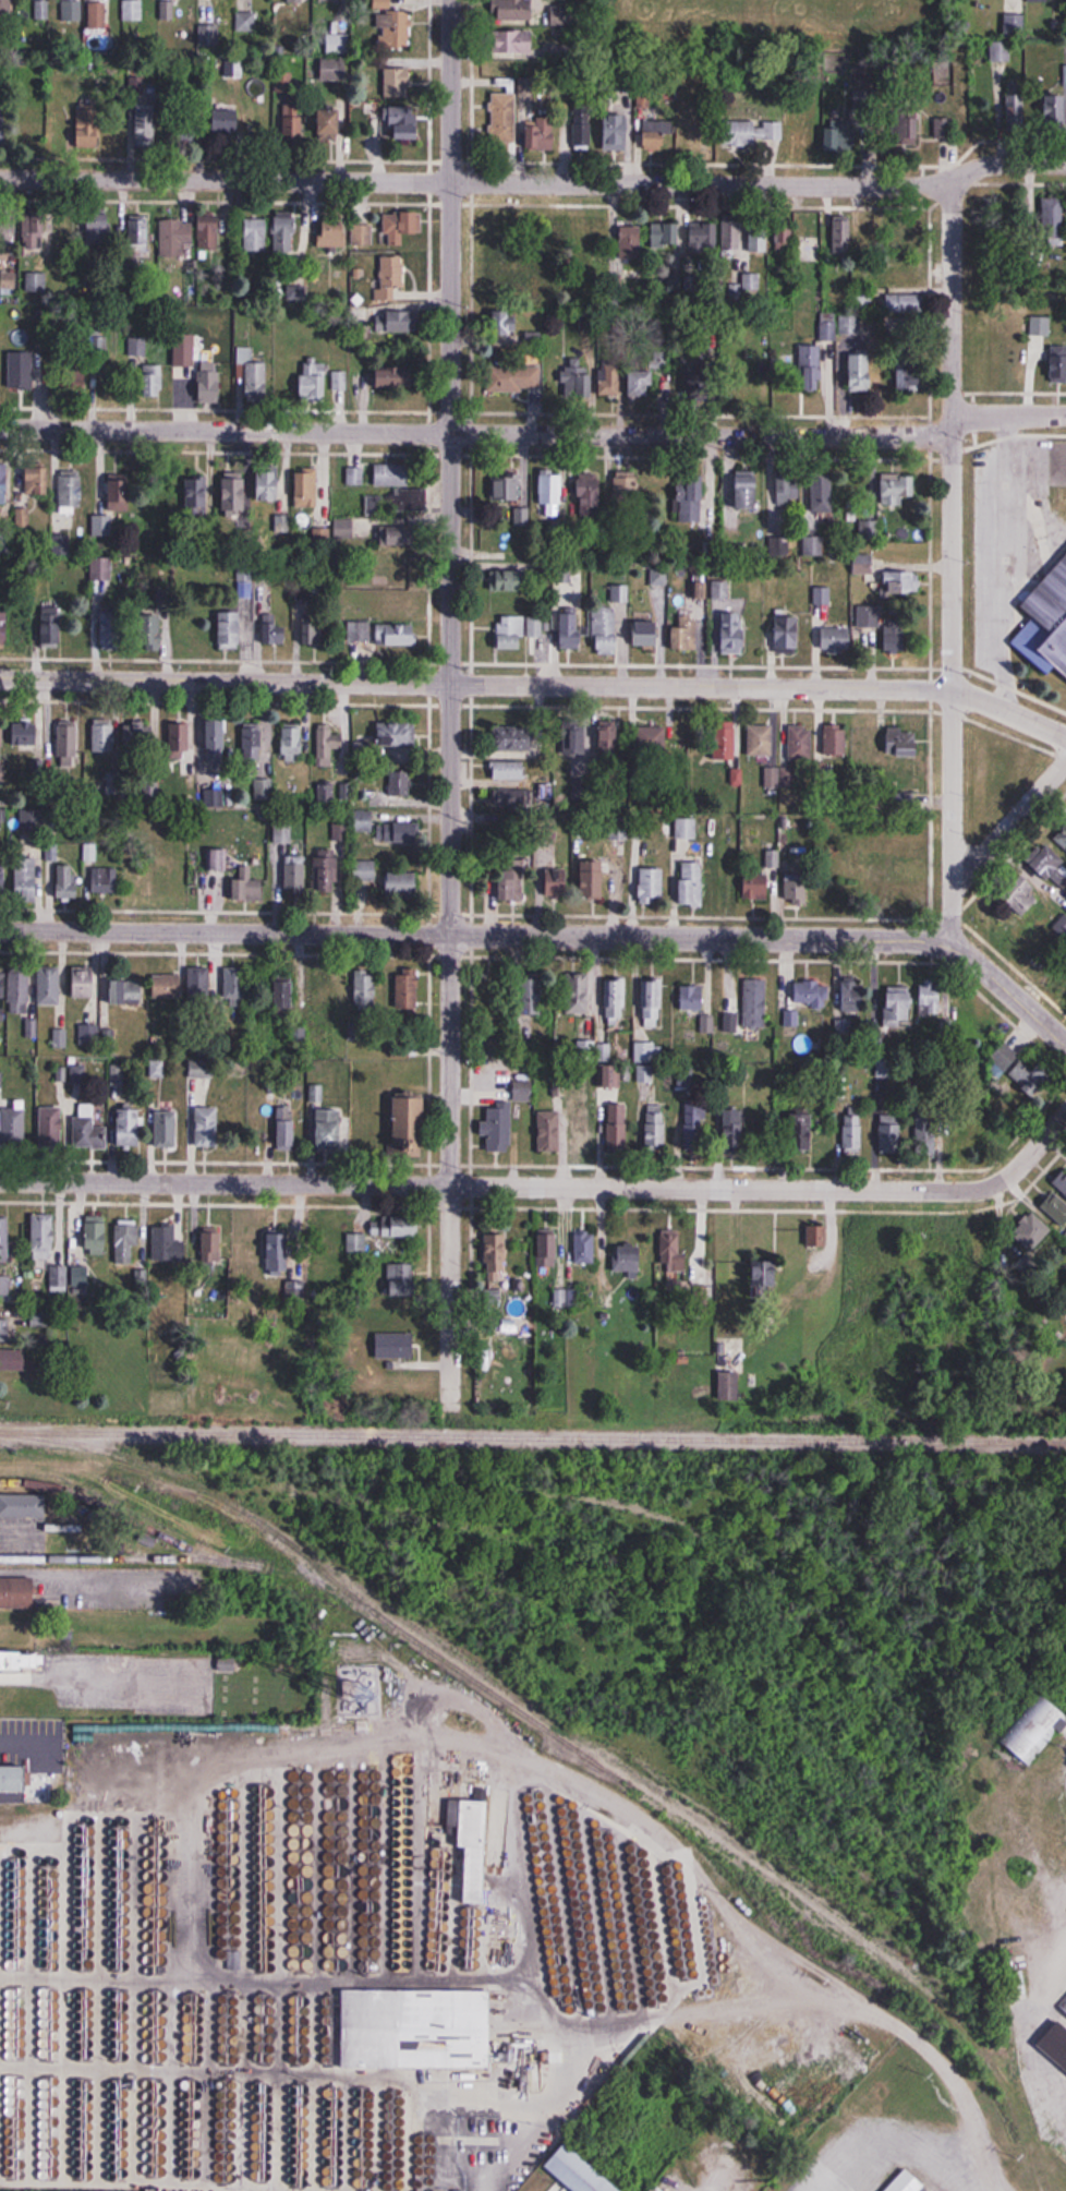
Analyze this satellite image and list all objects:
building: (1039, 0)
building: (295, 1)
building: (331, 2)
building: (385, 4)
building: (5, 7)
building: (38, 10)
building: (71, 10)
building: (132, 10)
building: (512, 10)
building: (96, 16)
building: (244, 22)
building: (1014, 25)
building: (393, 28)
building: (513, 40)
building: (1000, 50)
building: (233, 68)
building: (332, 70)
building: (397, 82)
building: (1015, 110)
building: (1055, 110)
building: (502, 118)
building: (225, 119)
building: (145, 121)
building: (404, 122)
building: (329, 123)
building: (89, 125)
building: (291, 125)
building: (2, 127)
building: (189, 127)
building: (909, 128)
building: (582, 129)
building: (755, 130)
building: (944, 130)
building: (617, 132)
building: (544, 133)
building: (657, 133)
building: (836, 140)
road: (534, 182)
building: (1053, 220)
building: (401, 227)
building: (98, 229)
building: (34, 230)
building: (840, 230)
building: (208, 231)
building: (287, 231)
building: (331, 232)
building: (596, 232)
building: (138, 233)
building: (255, 233)
building: (362, 233)
building: (665, 233)
building: (704, 234)
building: (732, 234)
building: (797, 234)
building: (756, 236)
building: (175, 238)
building: (630, 238)
building: (913, 240)
building: (499, 248)
building: (541, 269)
building: (392, 273)
building: (907, 274)
building: (8, 279)
building: (36, 280)
building: (504, 284)
building: (864, 298)
building: (904, 302)
building: (398, 322)
building: (505, 323)
building: (849, 325)
building: (137, 344)
building: (184, 350)
building: (1058, 363)
building: (744, 364)
building: (810, 368)
building: (21, 371)
building: (860, 372)
building: (395, 377)
building: (909, 378)
building: (577, 380)
building: (608, 380)
building: (640, 380)
building: (701, 380)
building: (255, 381)
building: (315, 381)
building: (339, 381)
building: (74, 382)
building: (152, 382)
building: (210, 383)
building: (504, 386)
road: (1008, 416)
road: (475, 432)
road: (450, 468)
building: (391, 474)
building: (354, 477)
building: (32, 482)
building: (3, 484)
building: (788, 485)
building: (71, 489)
building: (306, 489)
building: (896, 489)
building: (274, 490)
building: (505, 490)
building: (121, 491)
building: (748, 491)
building: (626, 493)
building: (550, 494)
building: (590, 495)
building: (822, 496)
building: (234, 497)
building: (199, 501)
building: (690, 503)
building: (396, 504)
building: (518, 517)
building: (22, 518)
building: (343, 528)
building: (869, 530)
building: (397, 535)
building: (322, 538)
building: (812, 545)
road: (950, 559)
building: (862, 564)
building: (398, 574)
building: (514, 581)
building: (569, 581)
building: (901, 582)
building: (244, 590)
building: (821, 595)
building: (399, 606)
building: (1046, 624)
building: (3, 627)
building: (51, 629)
building: (112, 629)
building: (536, 629)
building: (230, 630)
building: (274, 631)
building: (313, 631)
building: (570, 631)
building: (605, 631)
building: (510, 633)
building: (362, 634)
building: (647, 634)
building: (686, 634)
building: (734, 634)
building: (400, 635)
building: (787, 635)
building: (897, 637)
building: (837, 638)
road: (517, 685)
road: (1046, 730)
building: (25, 734)
building: (141, 736)
building: (104, 738)
building: (386, 738)
building: (514, 738)
building: (577, 738)
building: (651, 739)
building: (760, 741)
building: (835, 741)
building: (68, 742)
building: (180, 742)
building: (292, 742)
building: (610, 742)
building: (800, 742)
building: (216, 743)
building: (724, 743)
building: (901, 743)
building: (253, 744)
building: (328, 744)
building: (2, 751)
building: (509, 770)
building: (400, 783)
building: (326, 795)
building: (517, 797)
building: (213, 798)
building: (904, 803)
building: (2, 818)
building: (363, 820)
road: (1008, 824)
building: (686, 828)
building: (282, 832)
building: (340, 832)
building: (399, 833)
building: (905, 833)
building: (1061, 838)
building: (217, 860)
building: (1046, 862)
building: (364, 870)
building: (327, 871)
building: (294, 874)
building: (593, 878)
building: (26, 879)
building: (104, 880)
building: (512, 880)
building: (892, 880)
building: (2, 881)
building: (66, 881)
building: (556, 881)
building: (691, 882)
building: (652, 883)
building: (402, 884)
building: (756, 886)
building: (796, 886)
building: (166, 887)
building: (247, 887)
building: (1020, 895)
building: (1062, 926)
road: (225, 934)
road: (777, 939)
building: (84, 982)
building: (2, 984)
building: (198, 984)
building: (50, 986)
building: (167, 986)
building: (235, 987)
building: (408, 989)
building: (20, 990)
building: (125, 991)
building: (325, 991)
building: (365, 991)
building: (532, 991)
building: (578, 994)
building: (810, 994)
building: (852, 994)
building: (283, 997)
building: (691, 998)
building: (615, 999)
building: (930, 999)
building: (652, 1002)
building: (754, 1003)
building: (898, 1003)
building: (947, 1027)
building: (1019, 1069)
building: (1, 1076)
building: (616, 1078)
building: (522, 1092)
building: (410, 1121)
building: (694, 1123)
building: (130, 1125)
building: (617, 1125)
building: (656, 1125)
building: (51, 1127)
building: (207, 1127)
building: (286, 1127)
building: (500, 1127)
building: (12, 1128)
building: (734, 1128)
building: (166, 1129)
building: (803, 1129)
building: (328, 1130)
building: (549, 1131)
building: (852, 1131)
building: (889, 1132)
building: (88, 1133)
building: (581, 1133)
building: (925, 1133)
road: (1045, 1135)
road: (450, 1175)
building: (1062, 1181)
road: (518, 1187)
building: (1054, 1208)
building: (395, 1226)
building: (1031, 1231)
building: (816, 1235)
building: (43, 1237)
building: (90, 1237)
building: (4, 1239)
building: (126, 1241)
building: (211, 1242)
building: (167, 1243)
building: (547, 1248)
building: (584, 1248)
building: (276, 1253)
building: (496, 1253)
building: (673, 1256)
building: (628, 1257)
building: (80, 1276)
building: (58, 1278)
building: (765, 1278)
building: (400, 1284)
building: (4, 1285)
building: (39, 1317)
building: (4, 1326)
building: (395, 1346)
railway: (533, 1437)
building: (22, 1506)
railway: (195, 1549)
railway: (124, 1562)
railway: (342, 1581)
building: (16, 1594)
building: (19, 1661)
building: (1033, 1727)
building: (14, 1779)
building: (475, 1849)
building: (1063, 2005)
building: (416, 2030)
building: (578, 2172)
building: (907, 2182)
building: (655, 2189)

